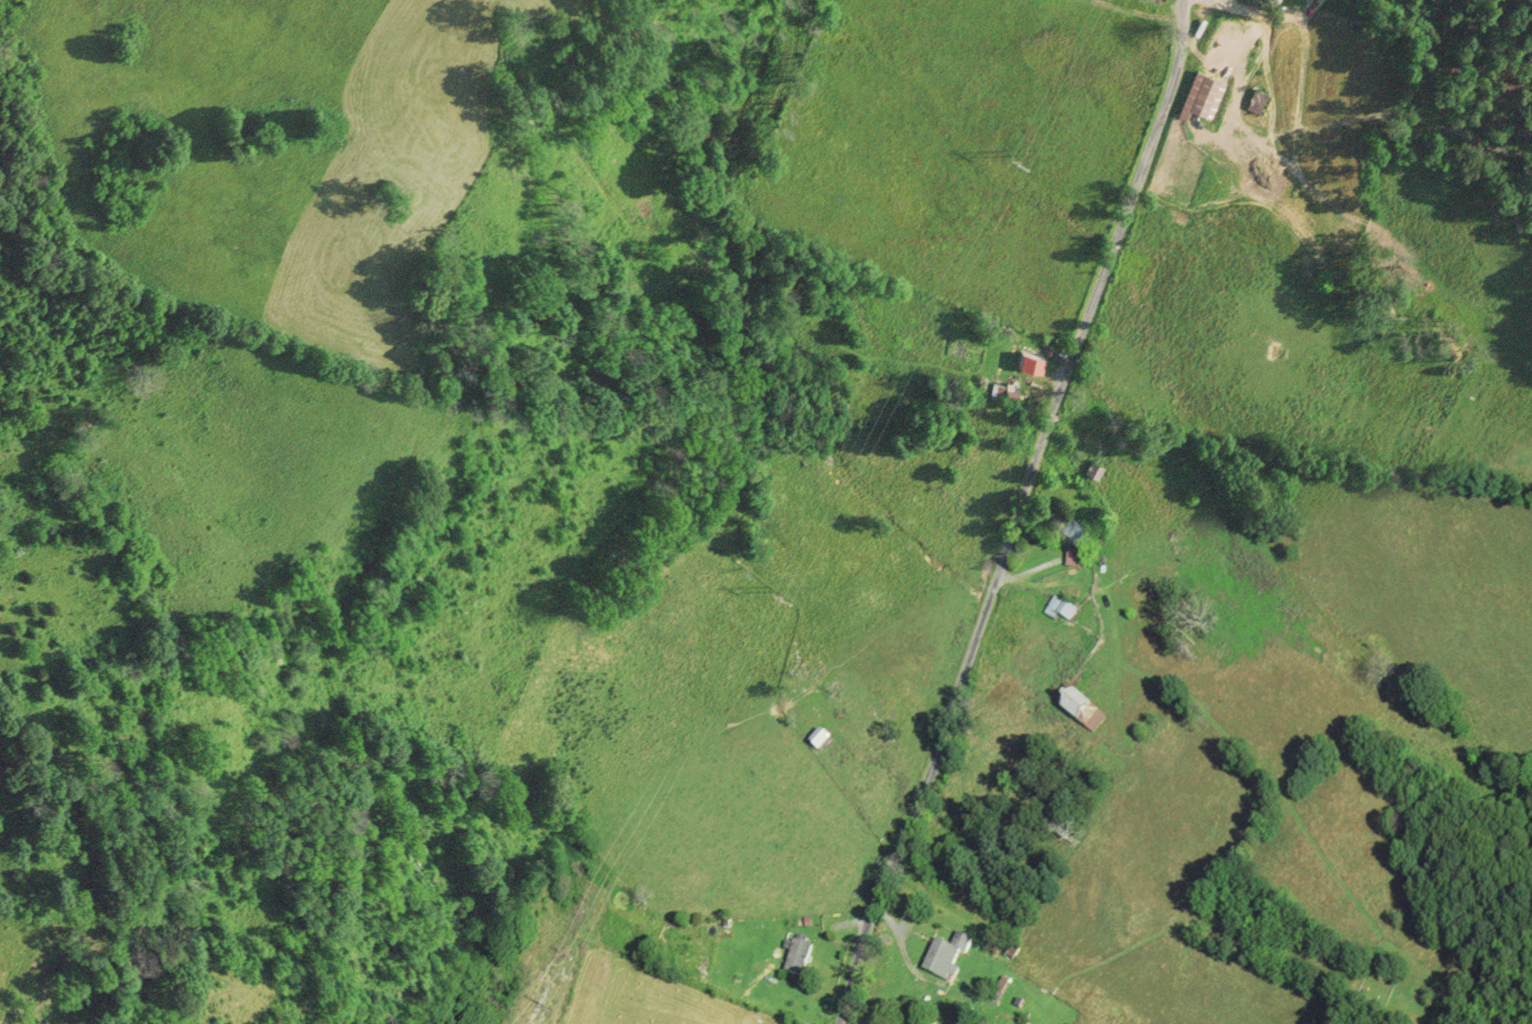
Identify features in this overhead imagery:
building: (1274, 2)
building: (1256, 102)
building: (1262, 181)
building: (1030, 362)
building: (1094, 472)
road: (1019, 513)
building: (1073, 534)
building: (1074, 559)
building: (1060, 610)
building: (1080, 711)
building: (818, 740)
building: (945, 959)
building: (798, 960)
building: (964, 1011)

